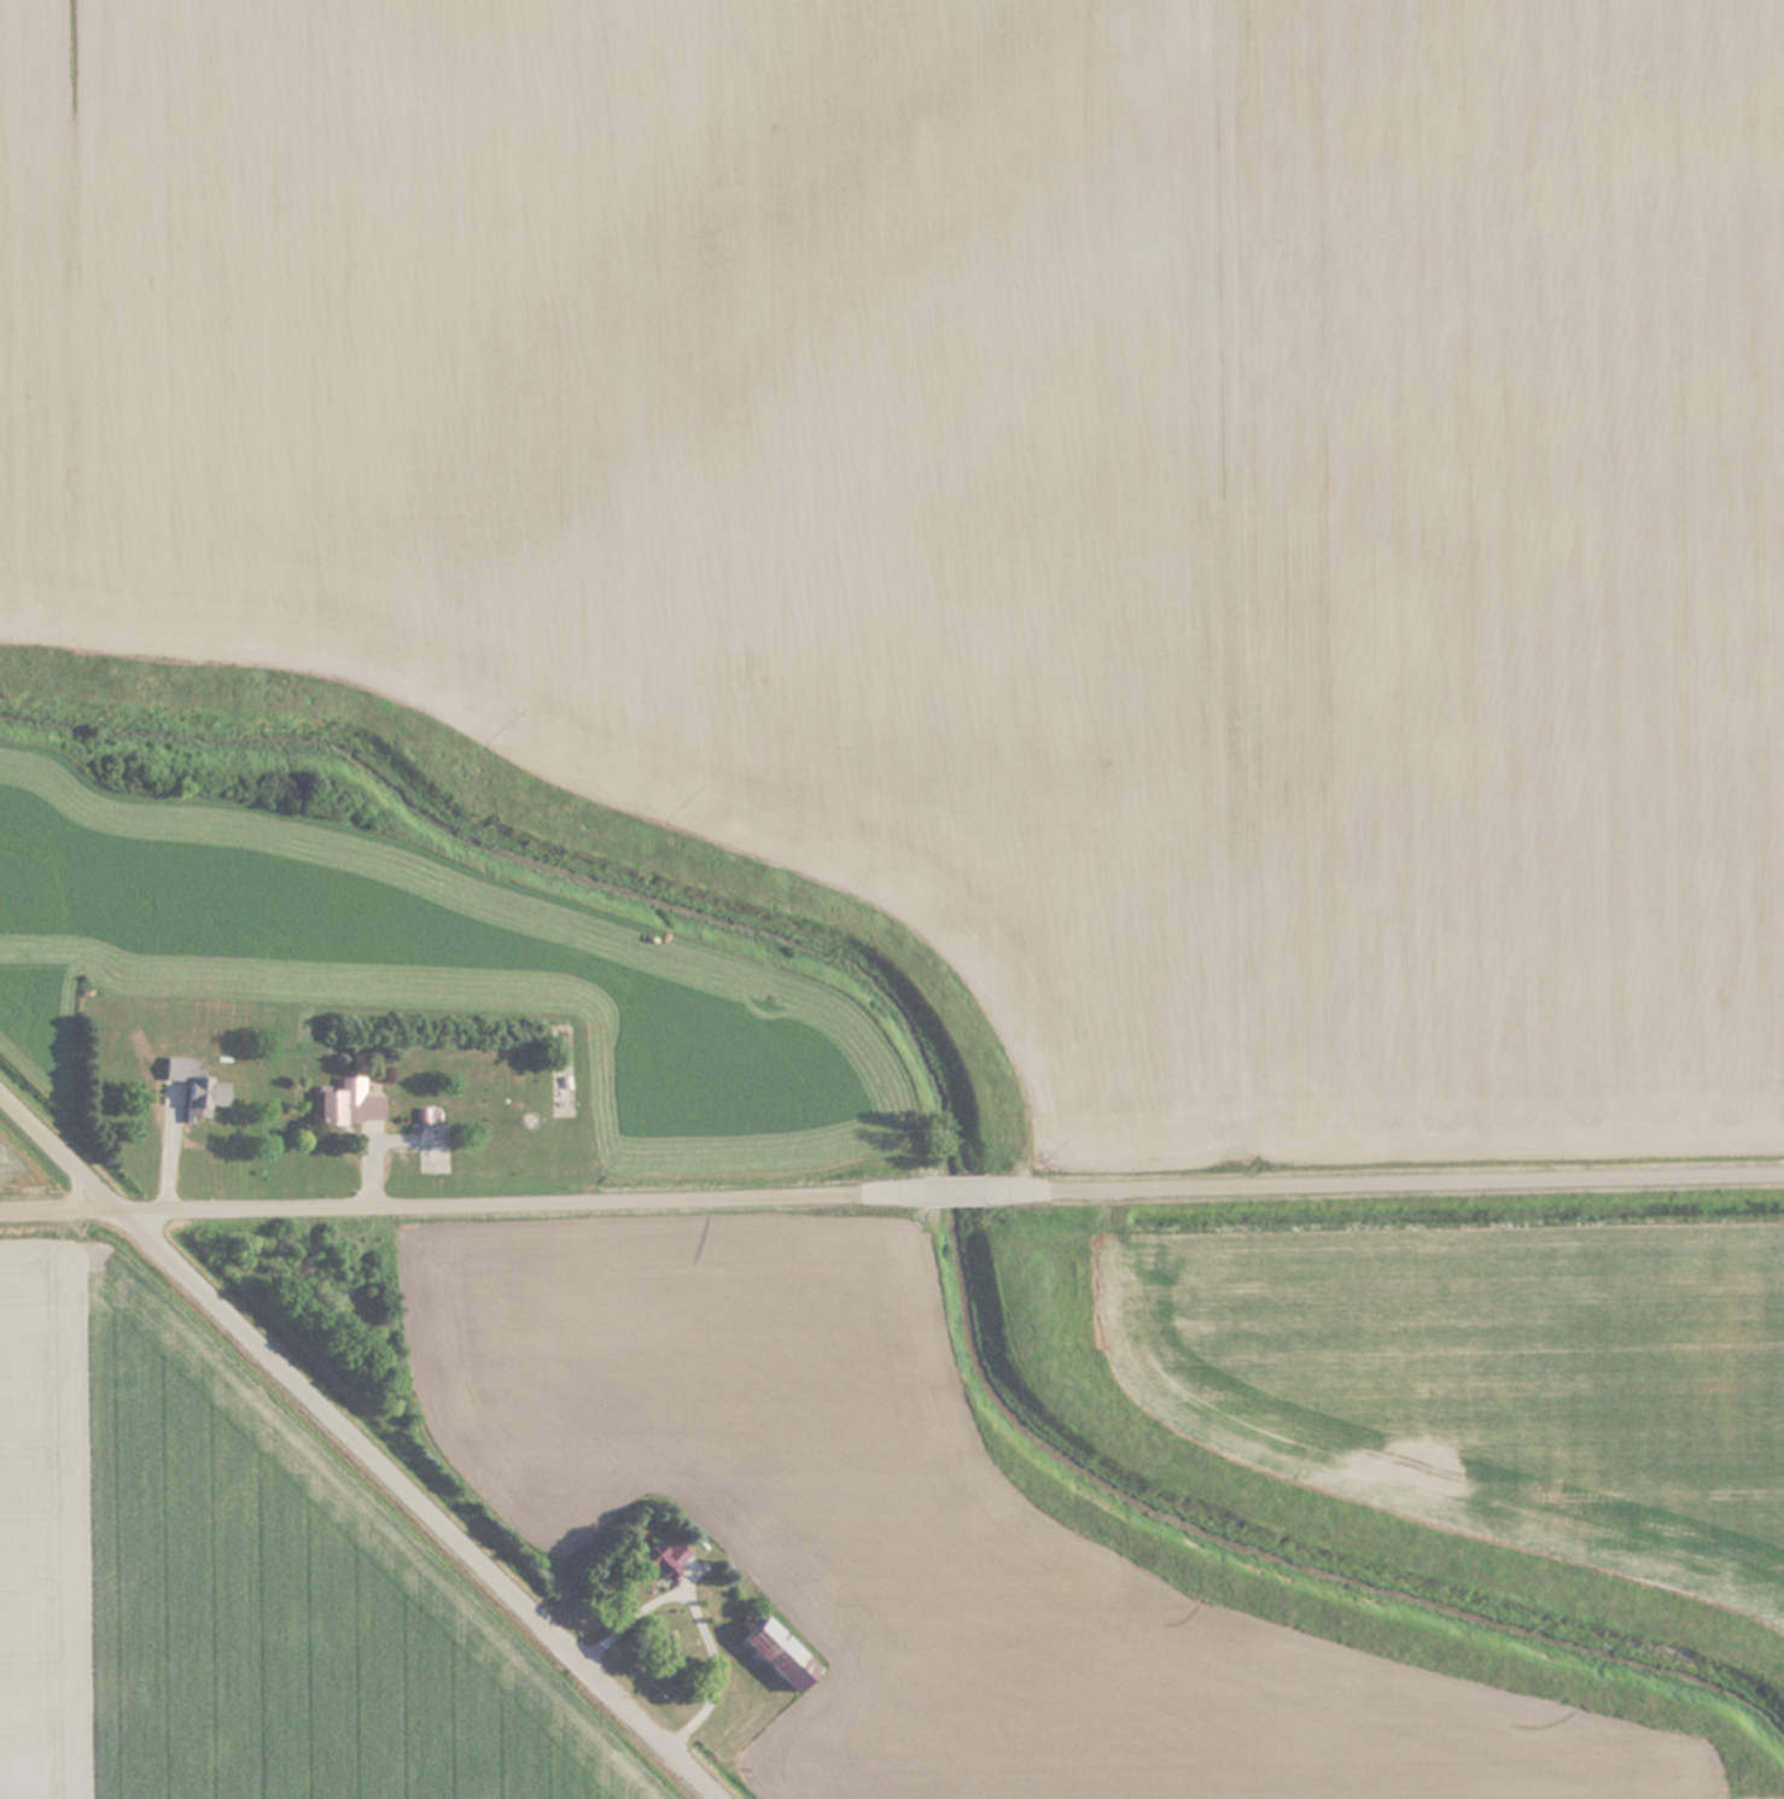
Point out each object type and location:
building: (194, 1086)
building: (346, 1102)
road: (1387, 1181)
road: (952, 1192)
road: (457, 1203)
road: (361, 1441)
building: (659, 1559)
building: (774, 1652)

